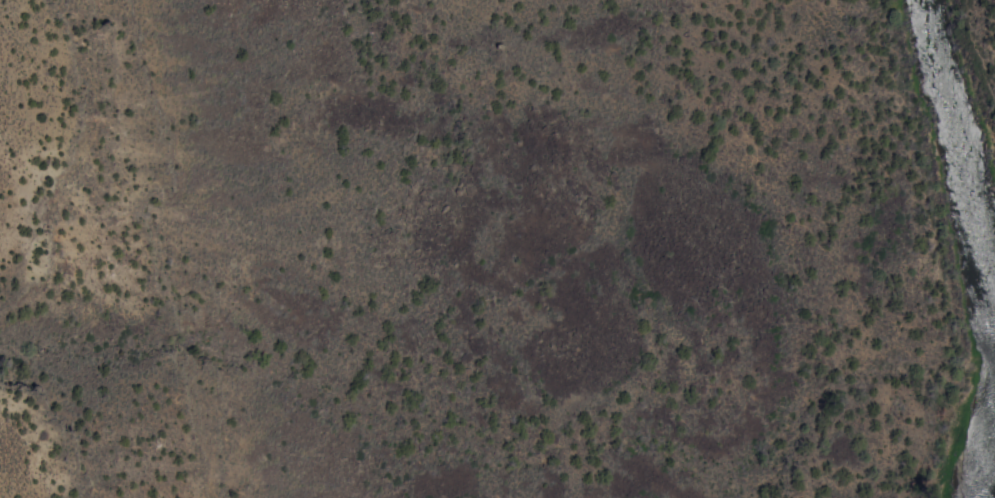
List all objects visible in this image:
river: (959, 140)
river: (987, 453)

